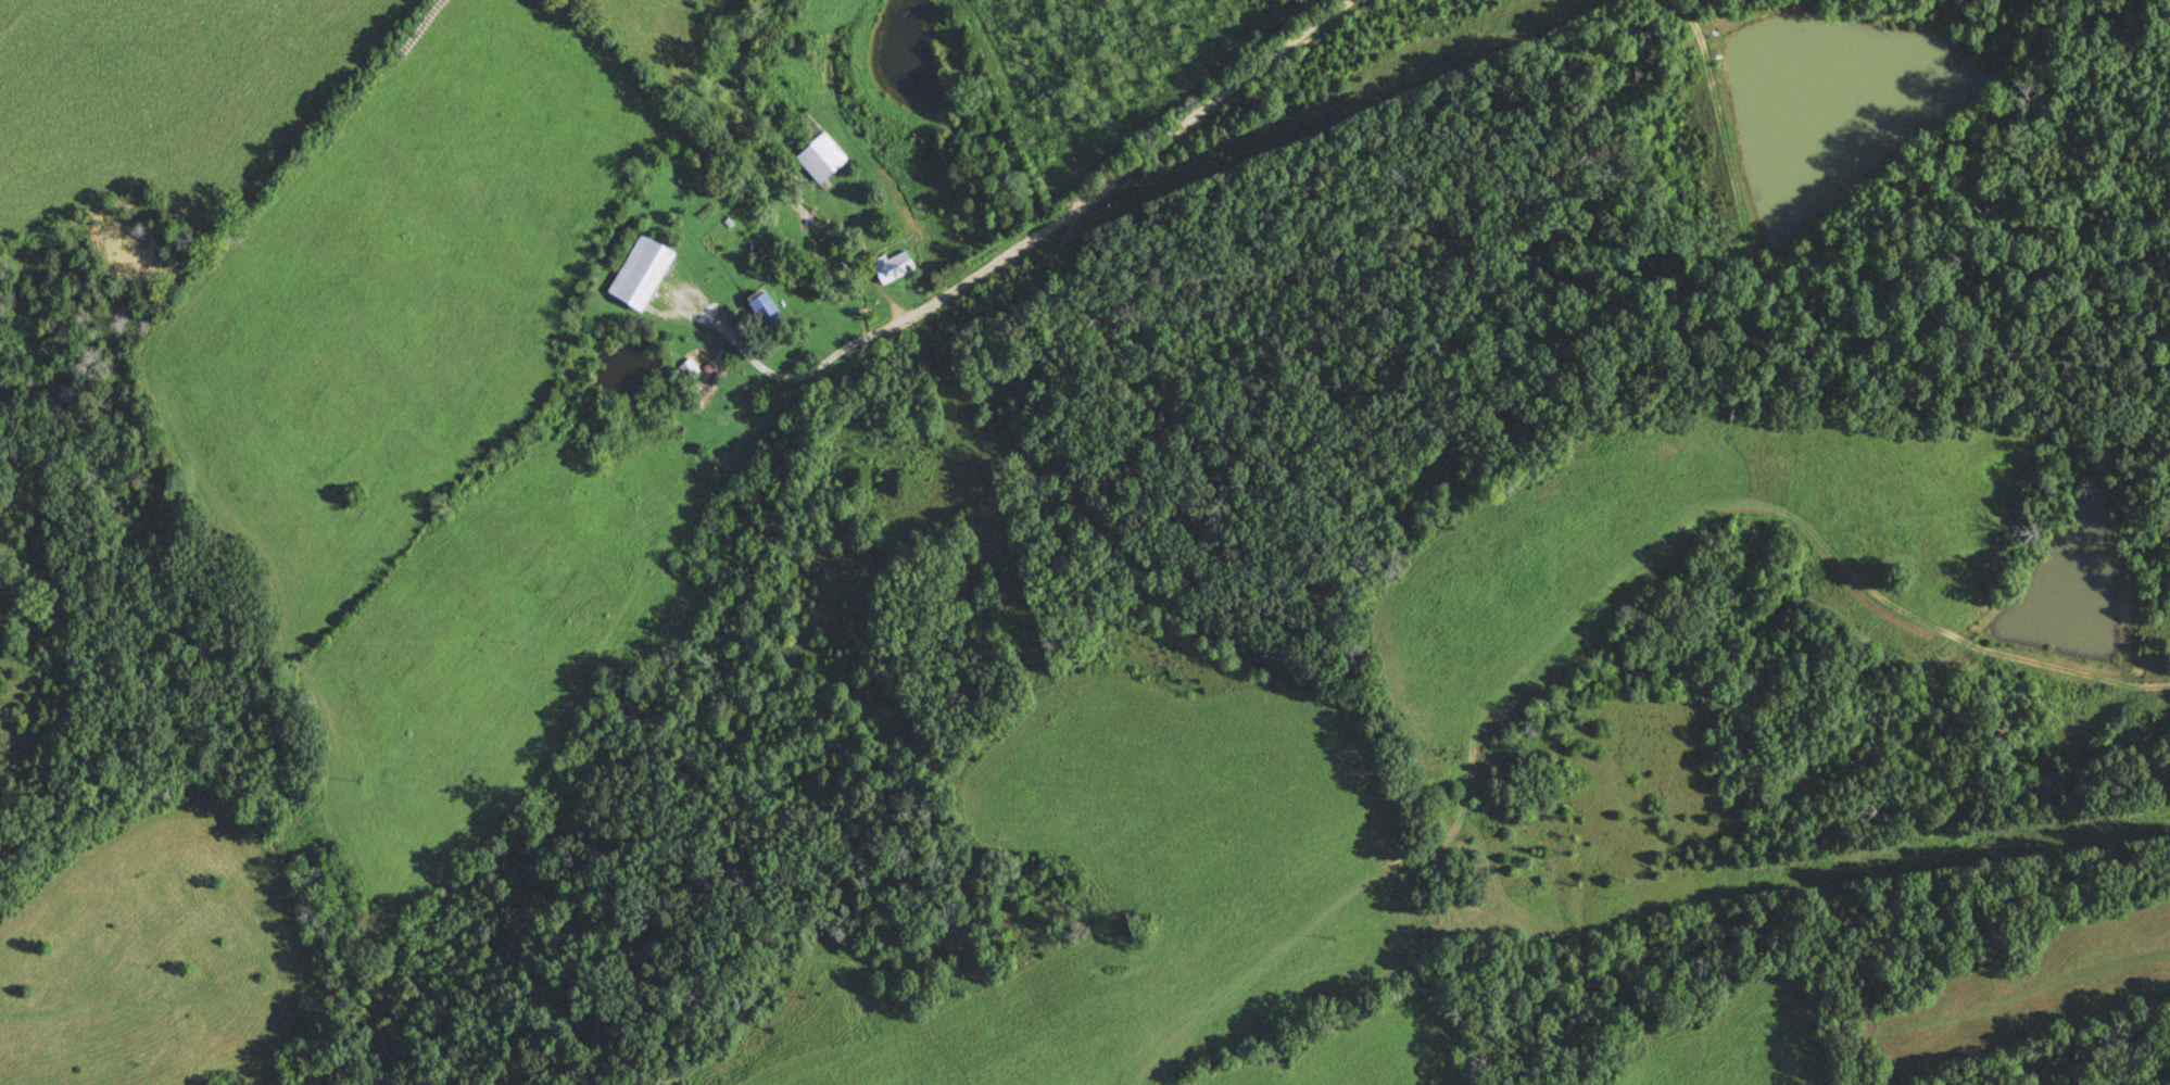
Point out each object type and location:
building: (823, 157)
road: (1023, 244)
road: (843, 248)
building: (644, 272)
building: (769, 311)
building: (691, 369)
building: (663, 626)

